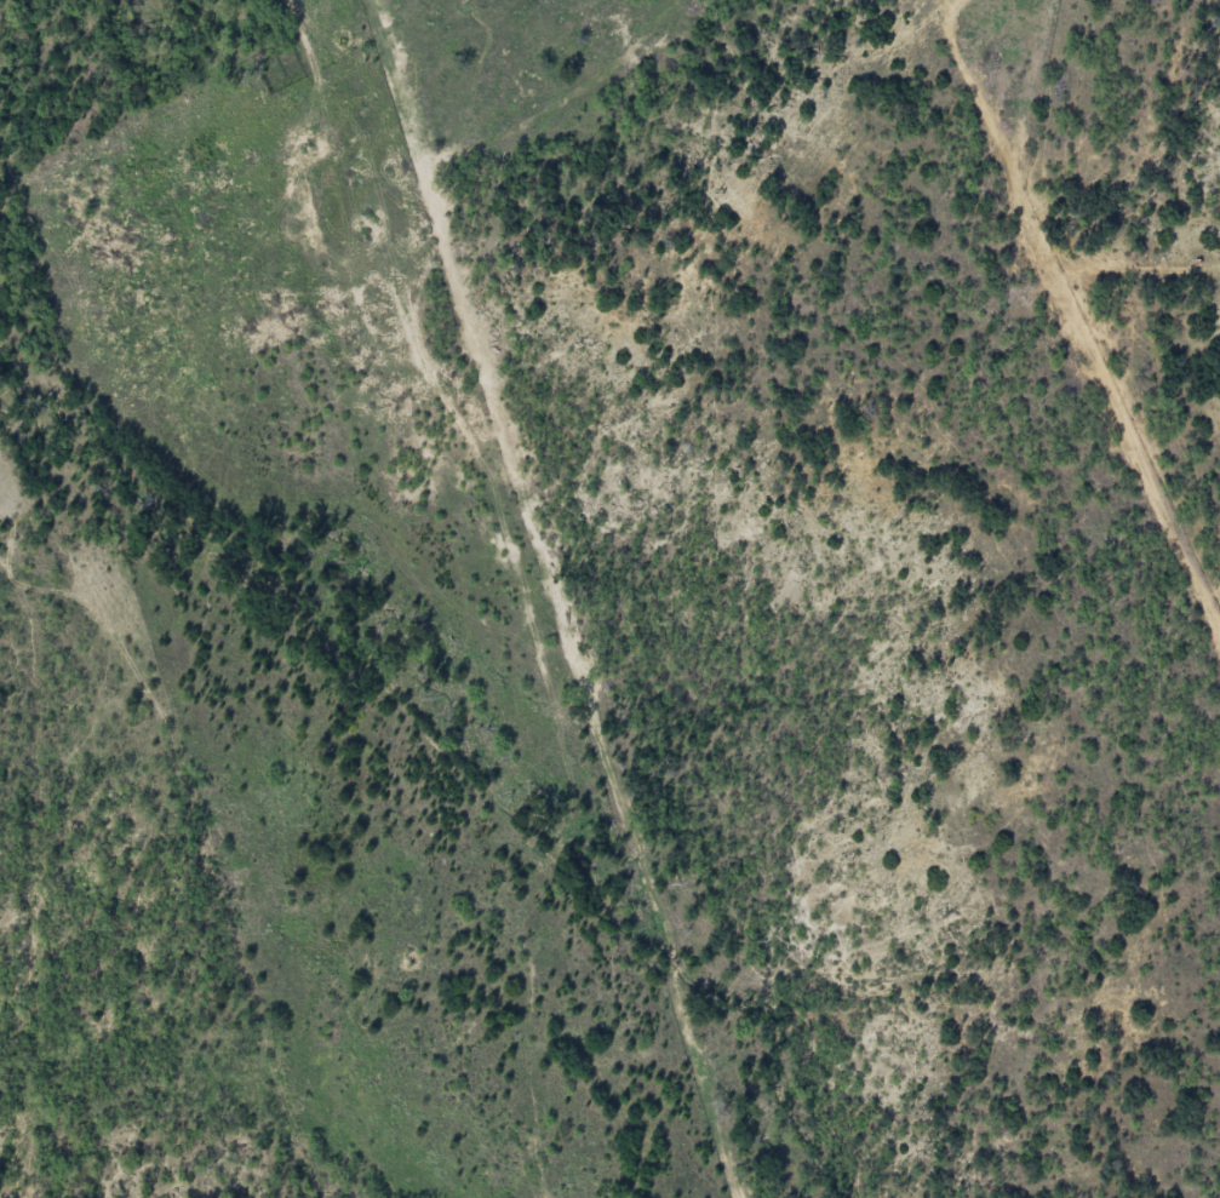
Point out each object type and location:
road: (575, 573)

